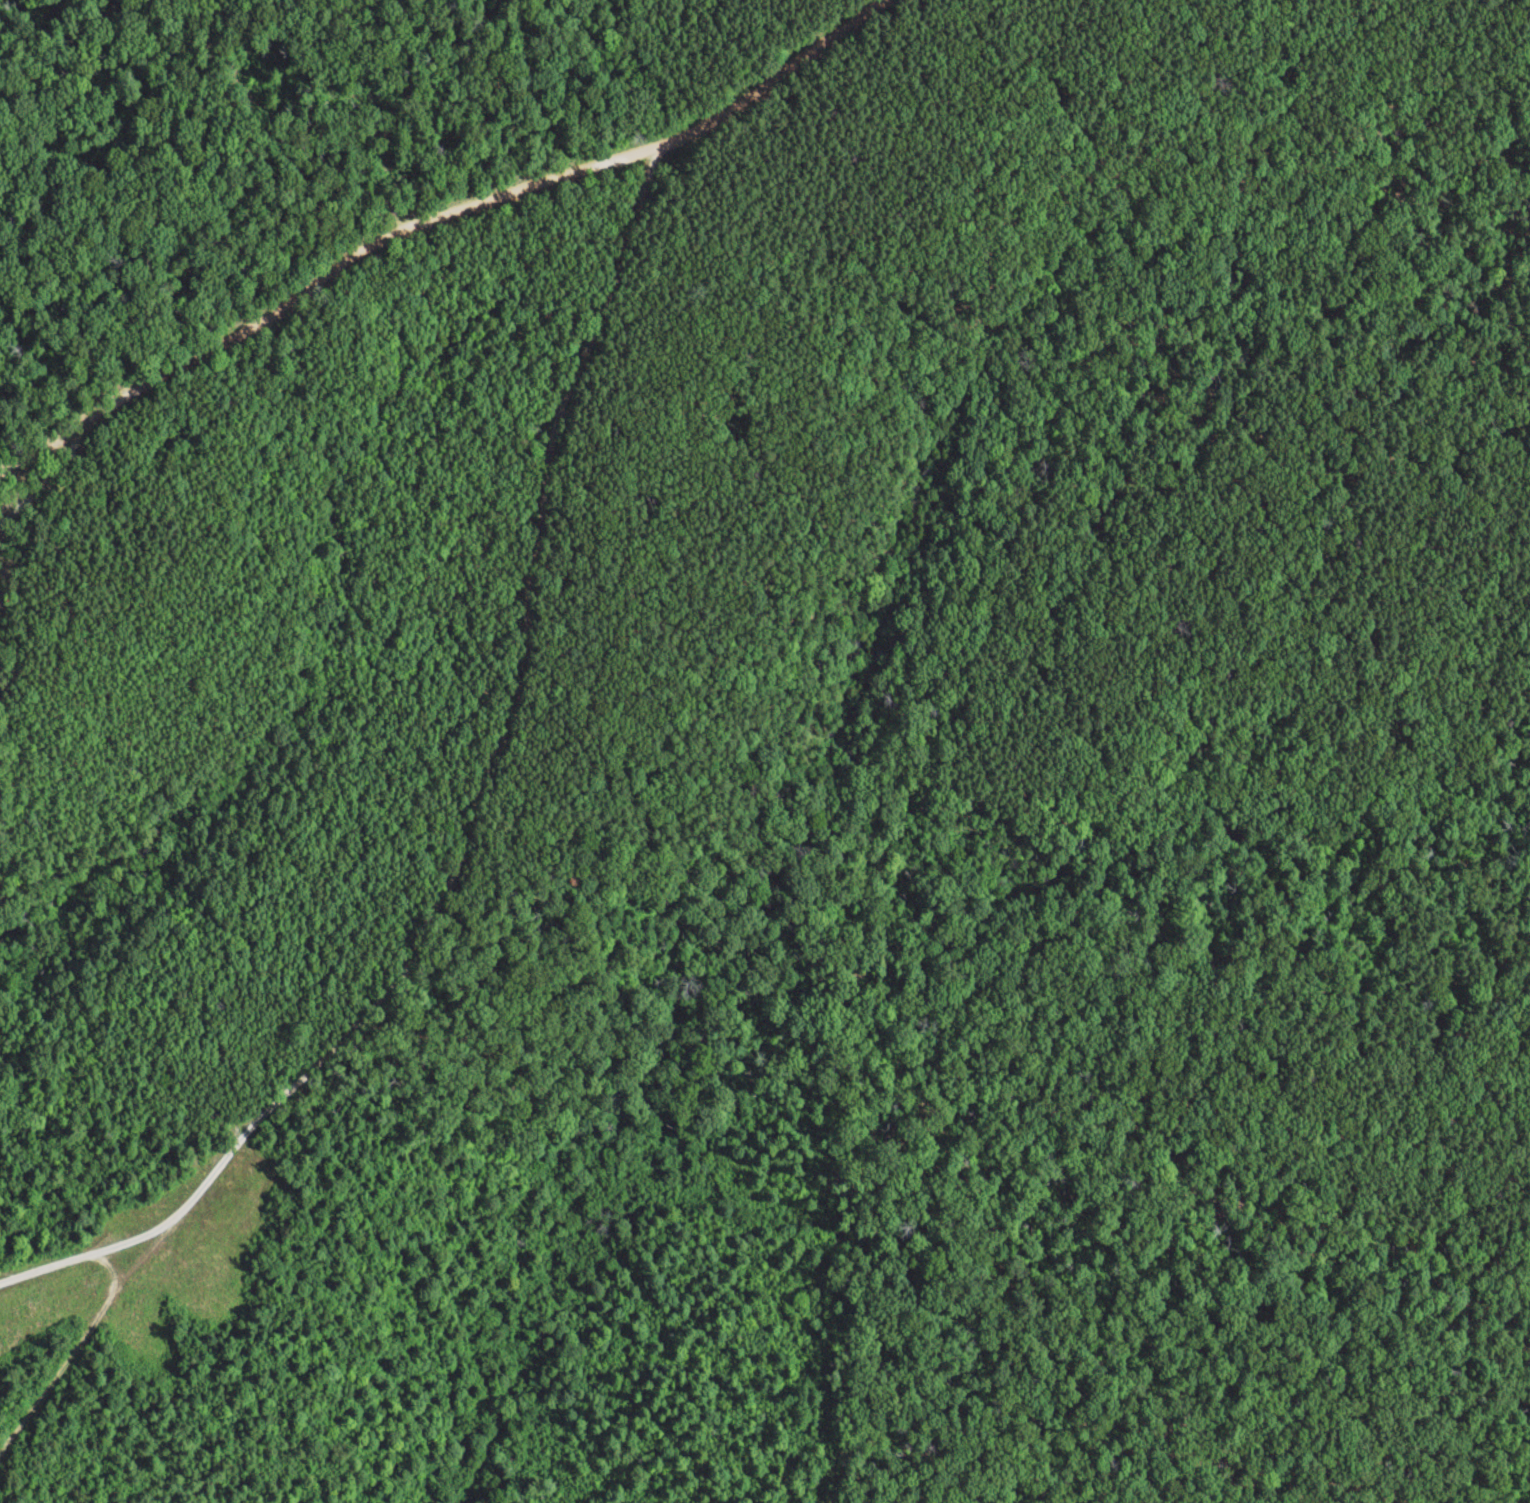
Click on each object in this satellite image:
road: (662, 158)
road: (382, 257)
road: (79, 428)

